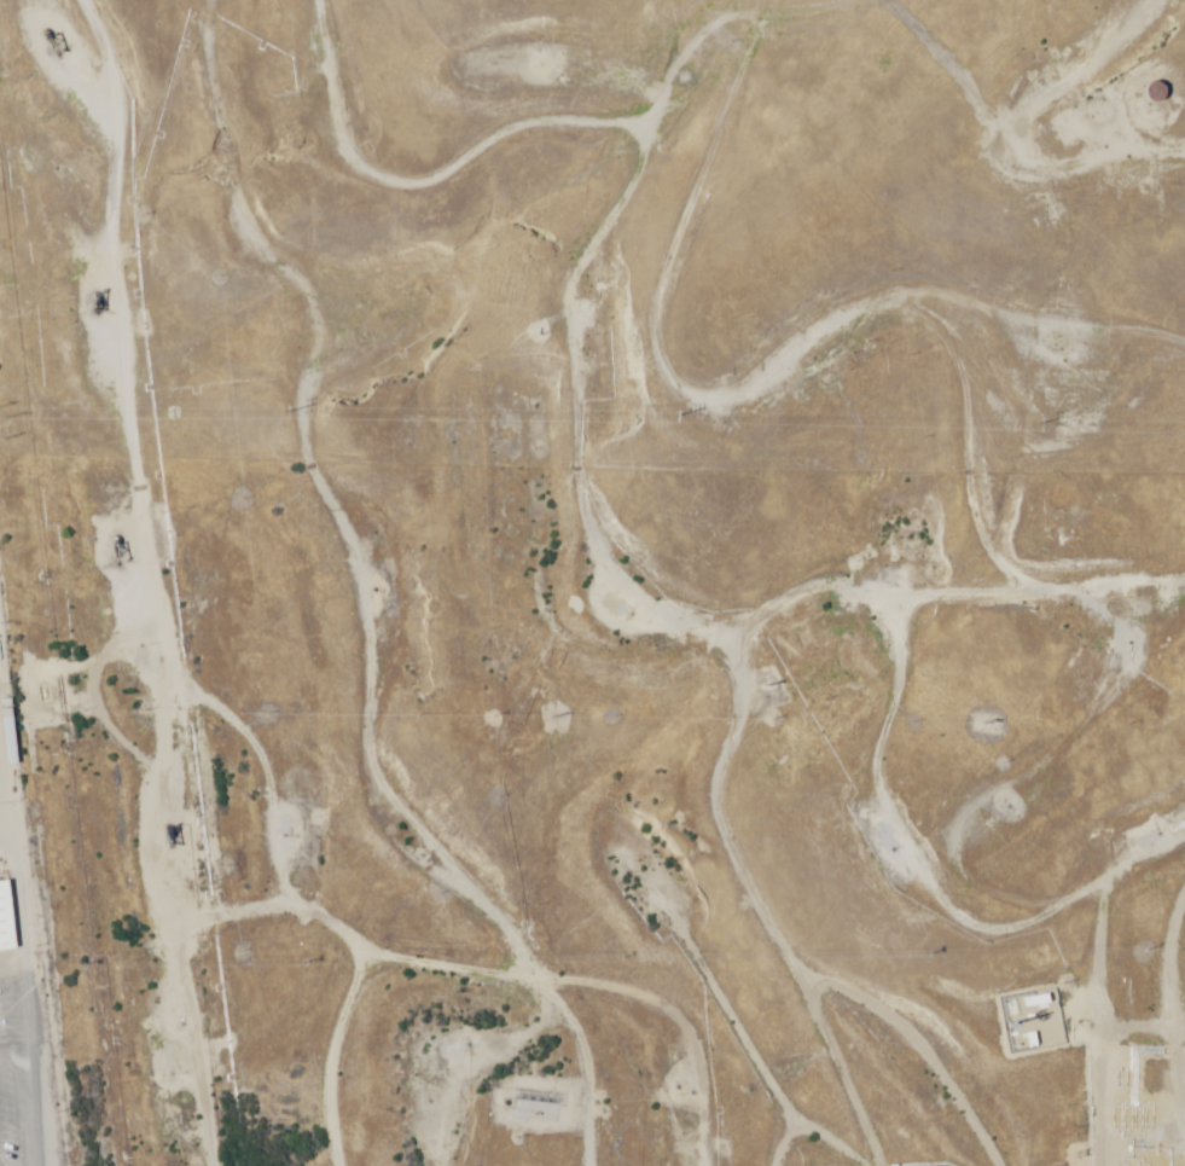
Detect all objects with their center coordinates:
road: (1116, 54)
building: (1154, 94)
road: (1113, 126)
road: (608, 149)
road: (929, 356)
road: (74, 578)
road: (981, 584)
road: (352, 608)
road: (650, 669)
road: (8, 820)
road: (949, 882)
road: (28, 922)
road: (696, 933)
building: (6, 935)
road: (374, 1013)
road: (866, 1019)
road: (1155, 1029)
road: (655, 1051)
road: (682, 1148)

